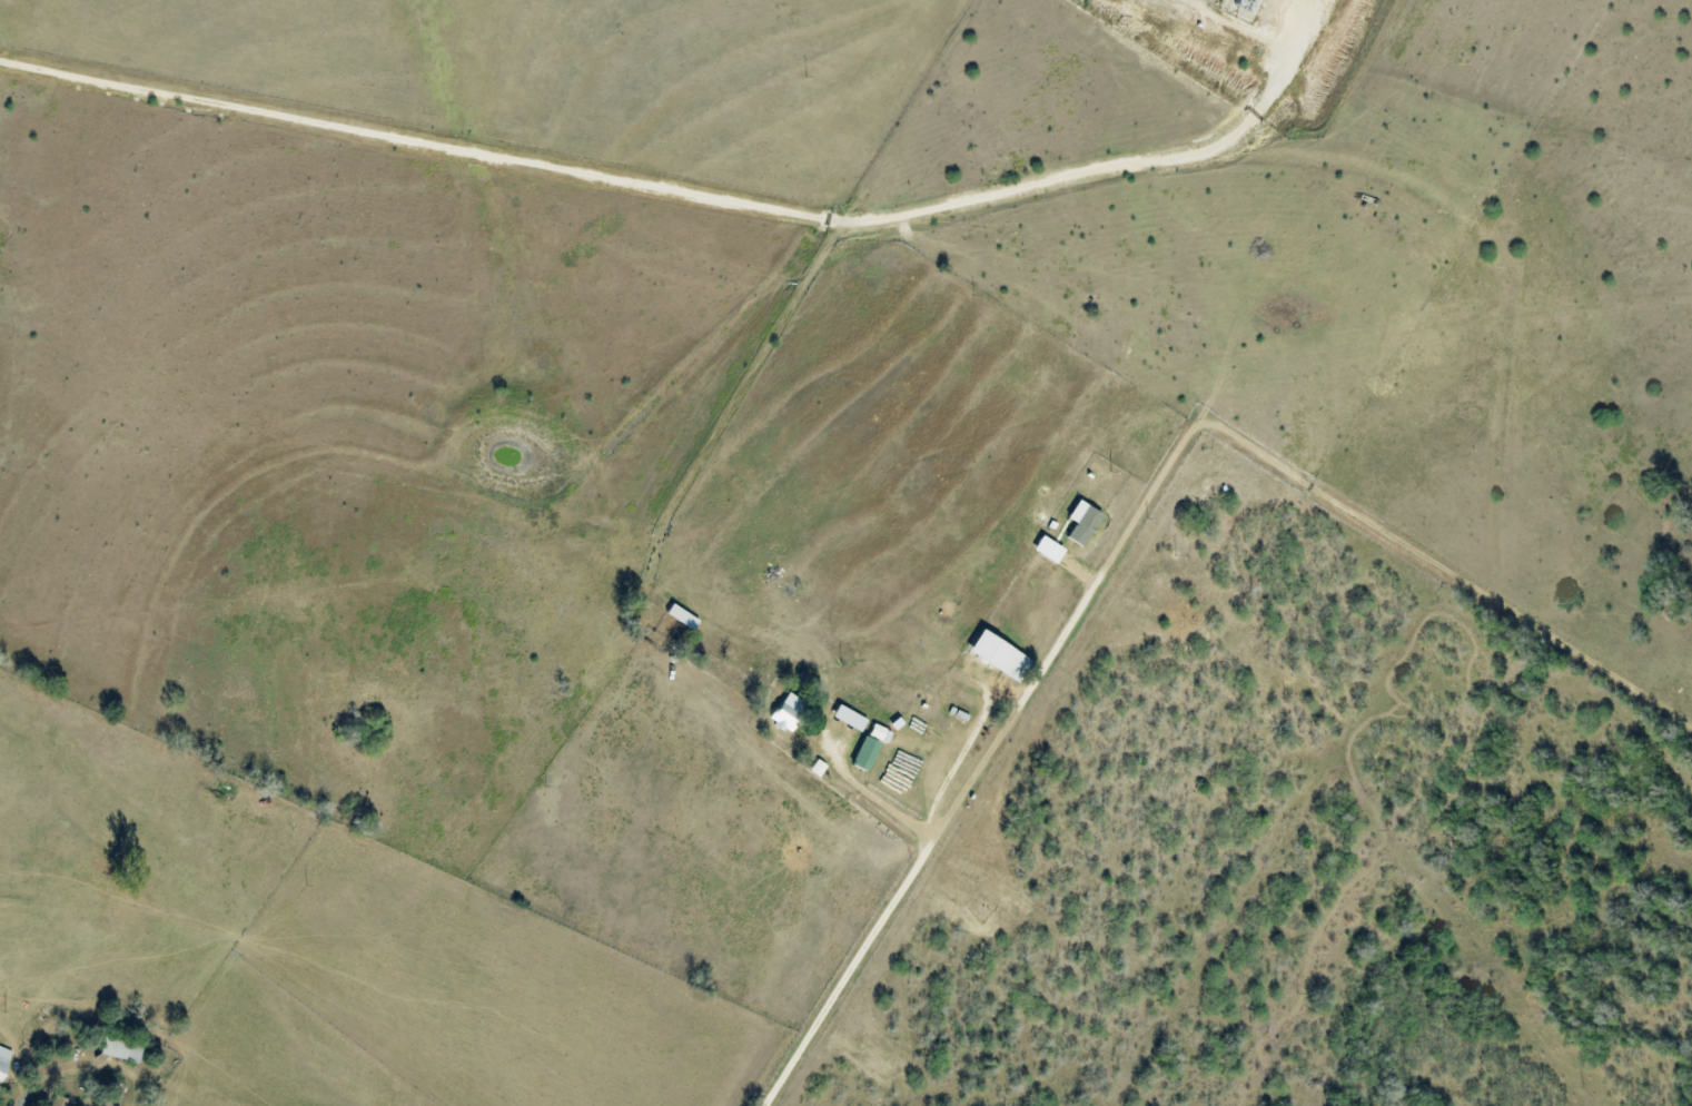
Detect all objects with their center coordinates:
road: (1124, 506)
building: (1077, 523)
building: (1042, 549)
building: (993, 655)
building: (781, 711)
building: (844, 718)
building: (877, 733)
building: (861, 753)
building: (4, 1061)
building: (65, 1102)

